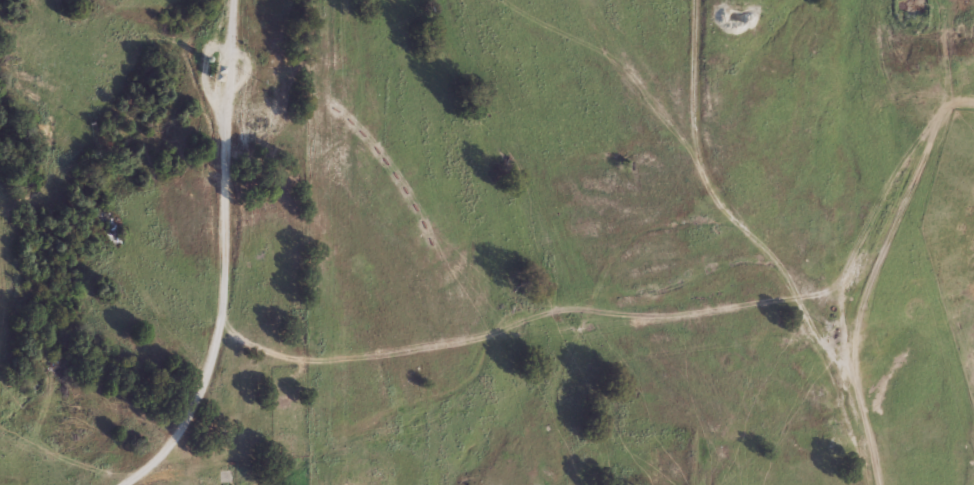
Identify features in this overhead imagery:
road: (787, 244)
road: (223, 256)

